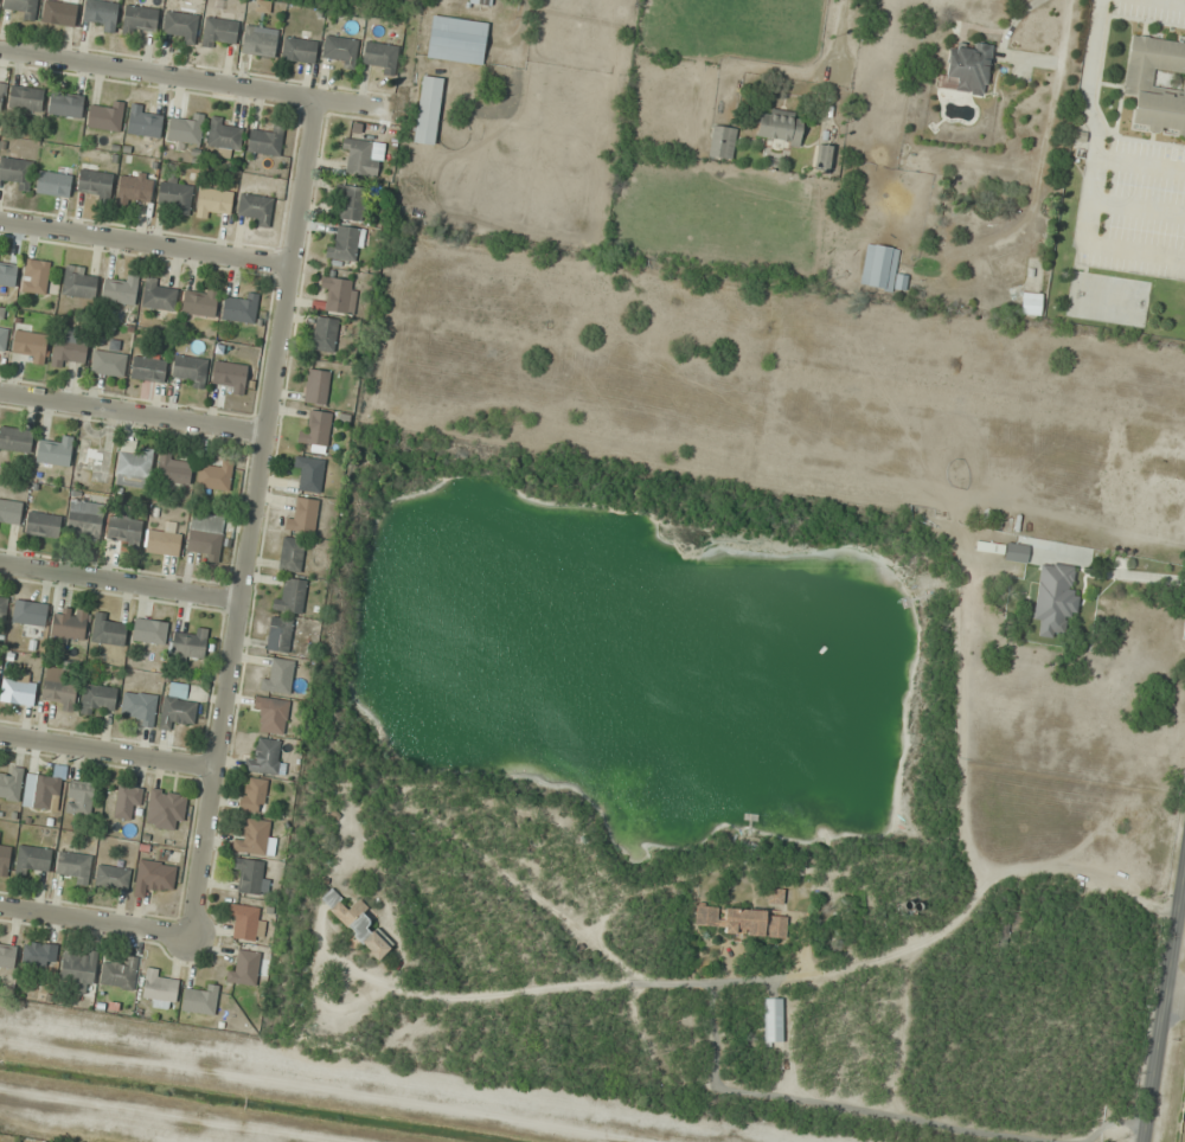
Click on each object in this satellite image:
building: (482, 2)
building: (23, 7)
building: (59, 12)
building: (100, 14)
building: (139, 18)
building: (179, 26)
building: (218, 32)
building: (457, 39)
building: (258, 40)
building: (299, 50)
building: (340, 51)
building: (379, 57)
building: (969, 69)
road: (194, 79)
building: (1157, 83)
building: (1, 92)
building: (25, 98)
building: (65, 105)
building: (428, 109)
building: (105, 116)
building: (143, 122)
building: (780, 126)
building: (184, 129)
building: (224, 135)
building: (264, 140)
building: (722, 141)
building: (363, 156)
building: (825, 156)
building: (15, 172)
building: (53, 184)
building: (95, 184)
building: (134, 187)
building: (174, 195)
building: (212, 201)
building: (351, 201)
building: (254, 208)
road: (147, 243)
building: (344, 244)
building: (880, 269)
building: (34, 276)
building: (78, 282)
building: (120, 290)
building: (337, 293)
building: (158, 295)
building: (199, 303)
building: (1030, 303)
building: (239, 308)
building: (324, 334)
building: (2, 339)
building: (28, 346)
building: (69, 347)
building: (108, 363)
building: (147, 368)
building: (188, 371)
building: (229, 377)
building: (315, 385)
road: (134, 410)
building: (315, 428)
building: (15, 438)
building: (134, 468)
building: (173, 469)
building: (214, 475)
building: (9, 514)
building: (302, 515)
road: (255, 517)
building: (84, 521)
building: (43, 524)
building: (124, 531)
building: (205, 534)
building: (162, 541)
building: (988, 547)
building: (1016, 552)
building: (294, 554)
road: (121, 582)
building: (290, 595)
building: (1053, 598)
building: (2, 607)
building: (28, 612)
building: (68, 625)
building: (107, 629)
building: (149, 630)
building: (278, 634)
building: (190, 643)
building: (18, 692)
building: (59, 692)
building: (97, 698)
building: (177, 706)
building: (140, 707)
building: (271, 714)
road: (108, 751)
building: (265, 757)
building: (11, 784)
building: (46, 791)
building: (254, 795)
building: (79, 797)
building: (126, 800)
building: (165, 808)
building: (0, 836)
building: (256, 838)
building: (4, 859)
building: (32, 859)
building: (72, 866)
building: (153, 875)
building: (251, 875)
building: (111, 877)
building: (775, 896)
building: (742, 919)
building: (244, 920)
road: (96, 922)
building: (357, 923)
building: (1013, 929)
building: (39, 954)
building: (7, 956)
building: (245, 968)
building: (78, 969)
building: (120, 974)
building: (159, 989)
road: (1177, 989)
building: (200, 1000)
road: (1165, 1009)
road: (1174, 1012)
building: (774, 1022)

